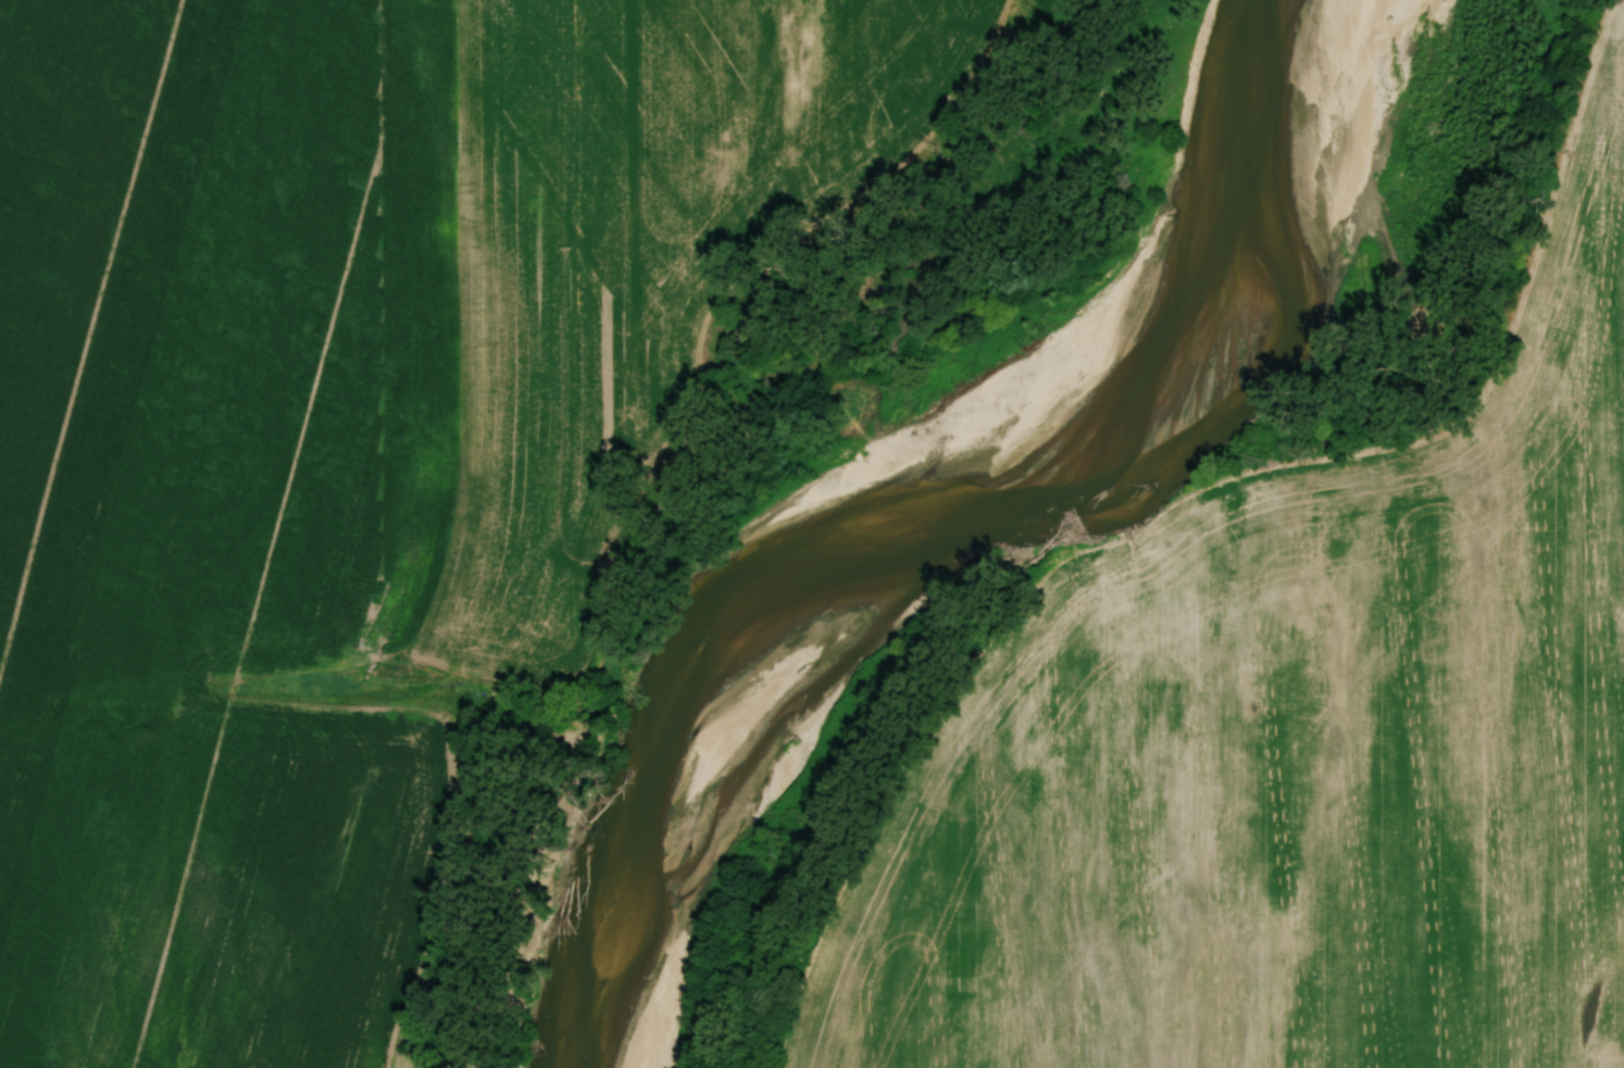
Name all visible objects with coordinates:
river: (903, 477)

